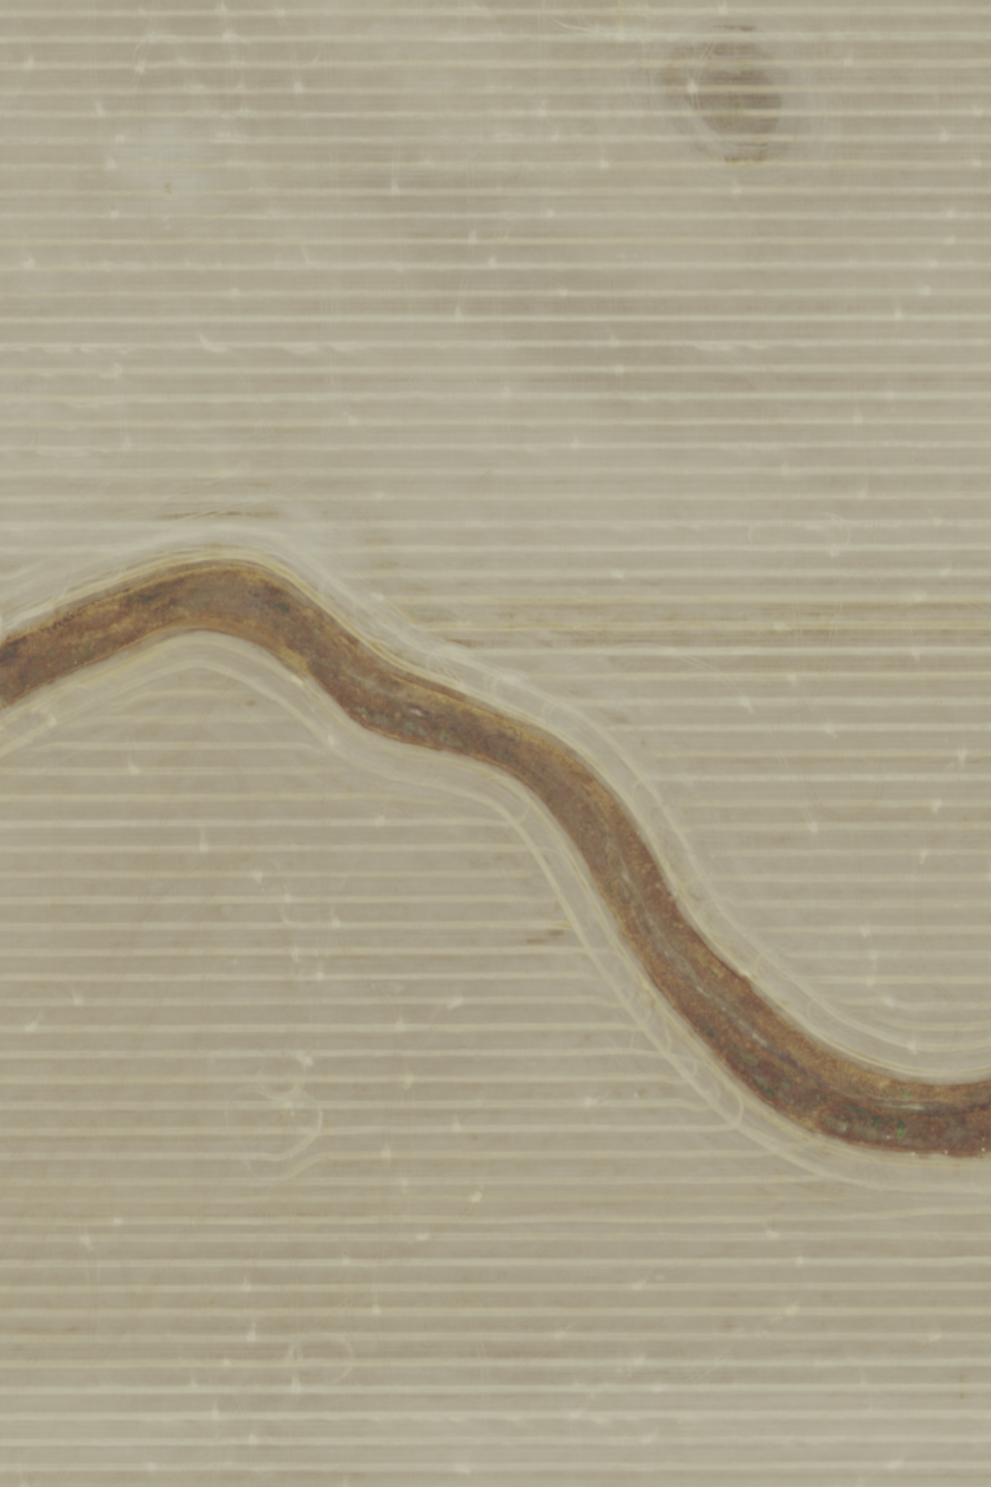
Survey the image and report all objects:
crop: (498, 301)
crop: (506, 1422)

